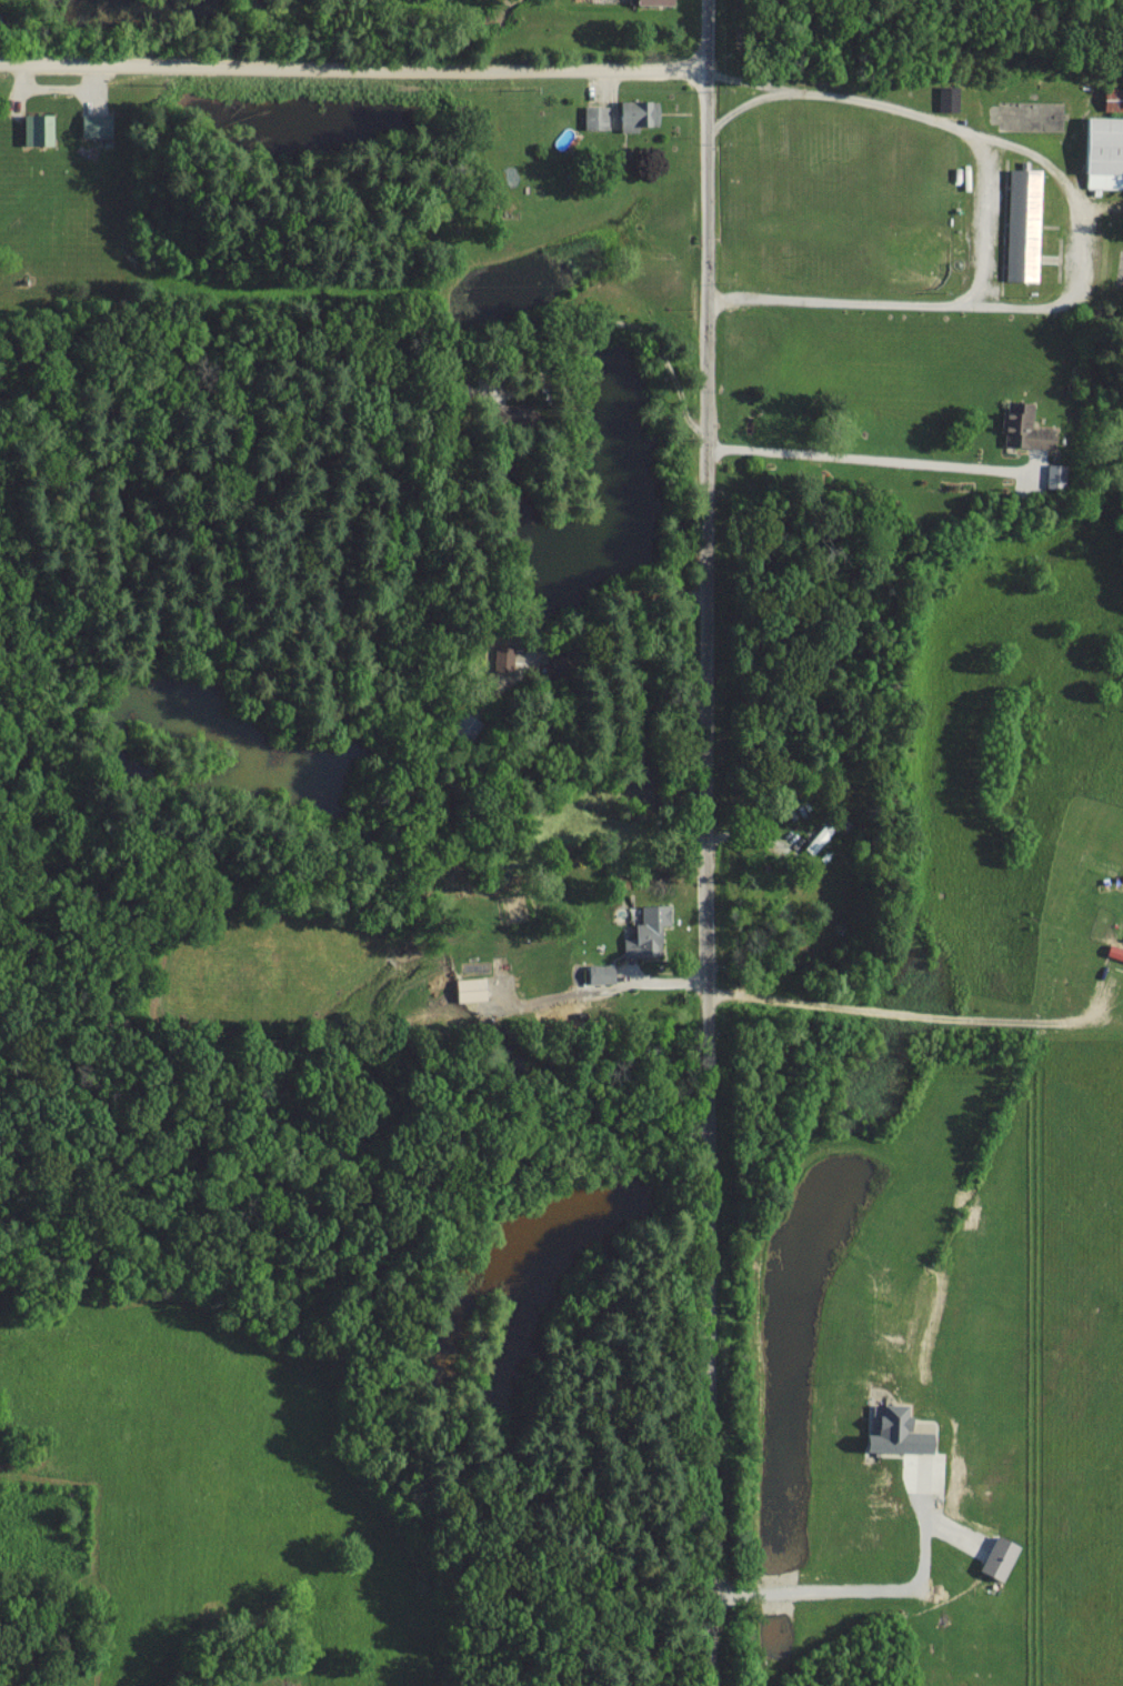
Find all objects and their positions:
building: (656, 1)
road: (353, 61)
building: (949, 98)
road: (742, 107)
building: (639, 113)
building: (596, 117)
building: (96, 124)
building: (38, 128)
building: (1104, 152)
road: (987, 209)
building: (1023, 223)
road: (652, 340)
building: (512, 413)
building: (1025, 429)
road: (872, 459)
building: (1056, 474)
building: (503, 653)
building: (464, 727)
building: (819, 837)
road: (708, 842)
building: (649, 932)
building: (601, 973)
building: (471, 988)
road: (925, 1013)
building: (900, 1433)
road: (875, 1589)

